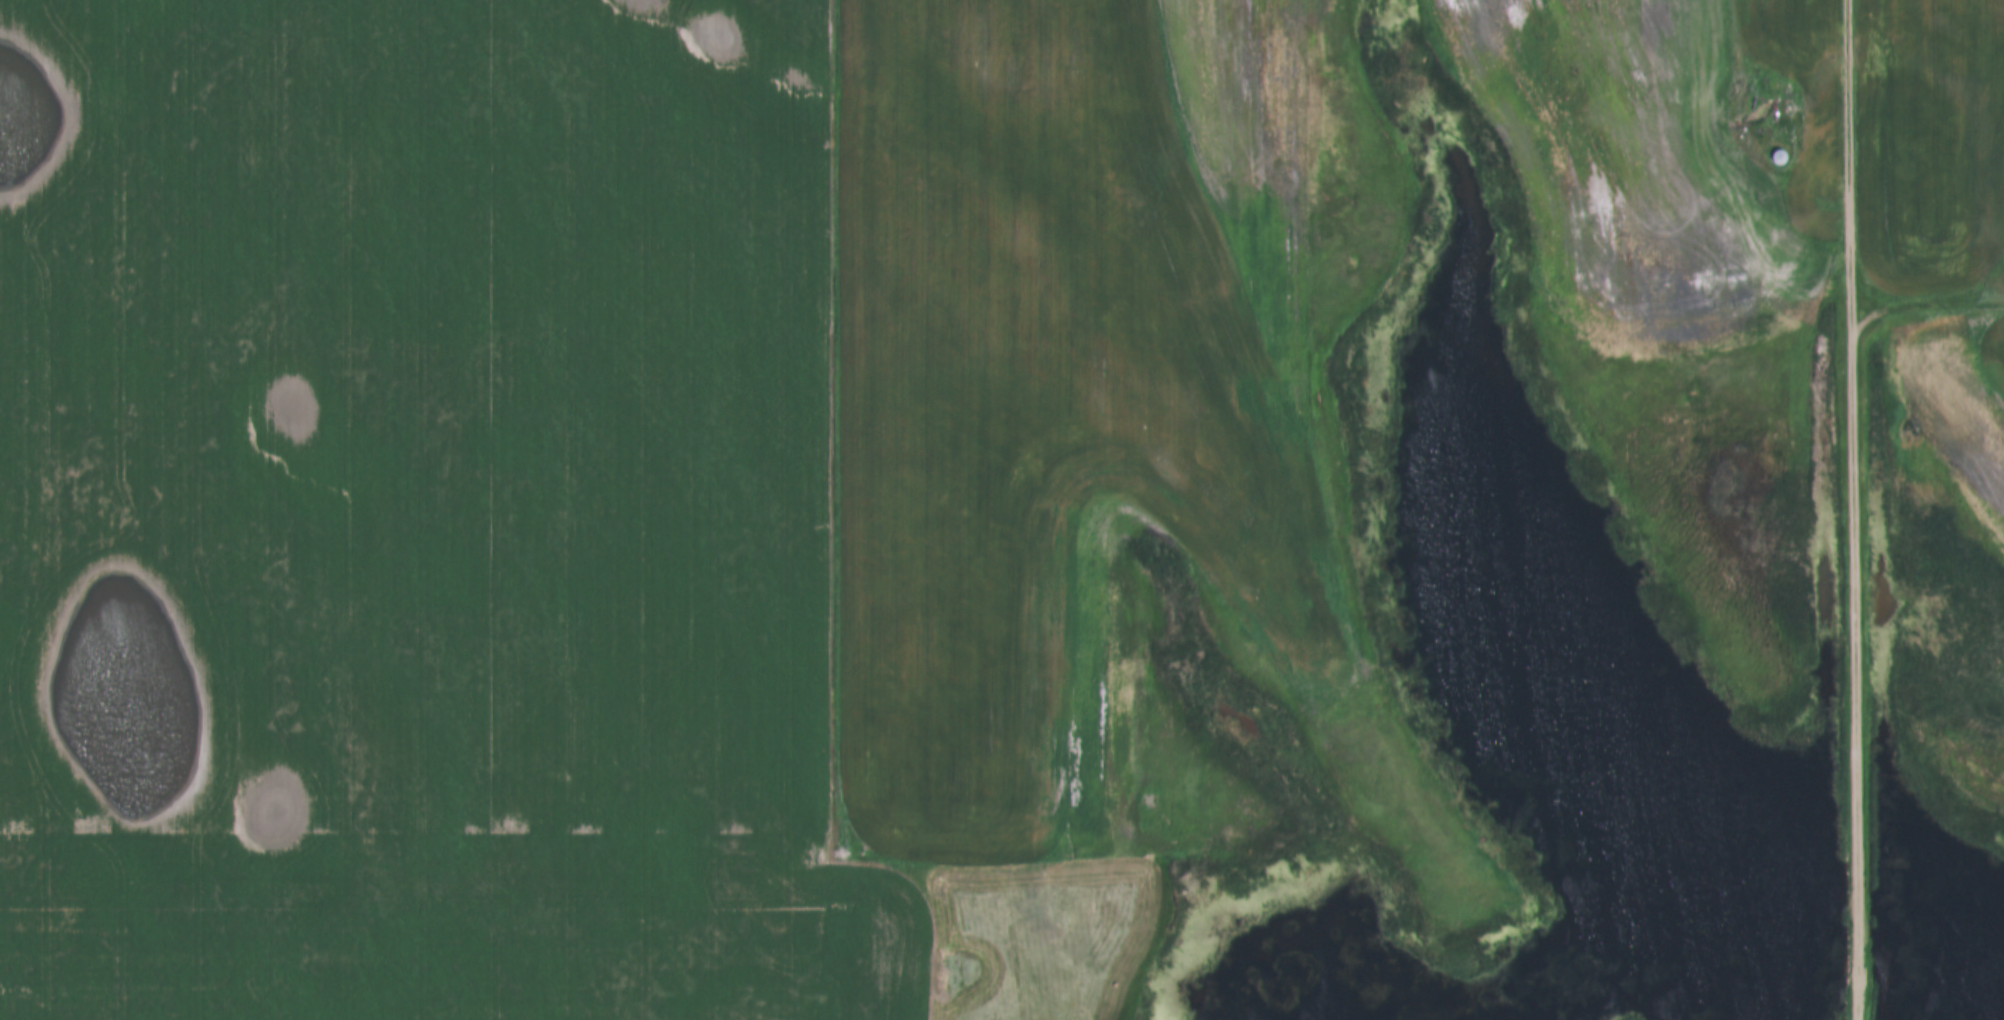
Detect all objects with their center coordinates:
road: (1918, 303)
road: (1851, 510)

